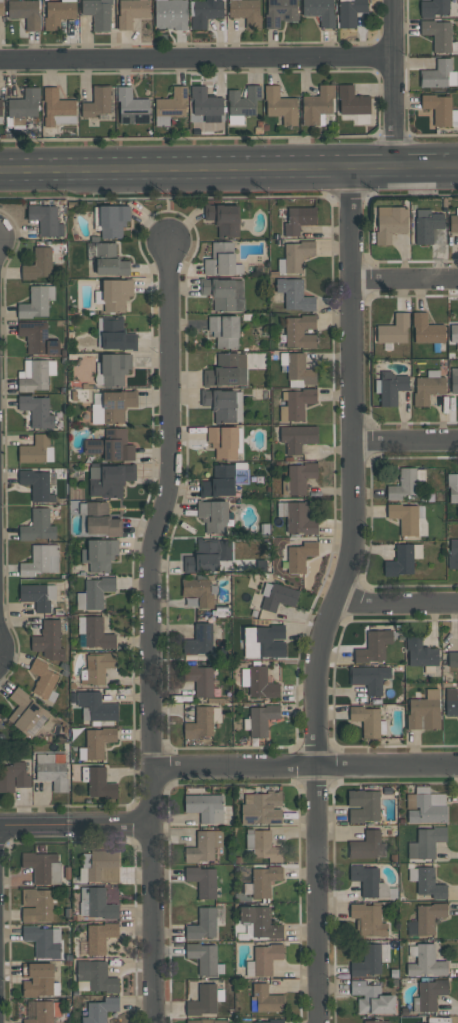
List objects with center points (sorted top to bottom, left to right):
building: (1, 7)
building: (433, 8)
building: (246, 11)
building: (320, 11)
building: (25, 12)
building: (131, 12)
building: (205, 12)
building: (280, 12)
building: (350, 12)
building: (58, 13)
building: (98, 13)
building: (170, 14)
building: (438, 34)
road: (197, 60)
building: (439, 75)
road: (395, 84)
building: (352, 101)
building: (205, 102)
building: (97, 103)
building: (24, 104)
building: (242, 104)
building: (317, 105)
building: (171, 106)
building: (280, 106)
building: (132, 107)
building: (57, 108)
building: (438, 108)
building: (0, 112)
road: (229, 170)
building: (223, 218)
building: (45, 219)
building: (298, 219)
building: (112, 220)
building: (453, 220)
building: (390, 222)
building: (426, 225)
building: (294, 256)
building: (109, 260)
building: (221, 260)
building: (38, 264)
road: (405, 283)
building: (224, 293)
building: (116, 294)
building: (294, 294)
building: (36, 301)
building: (393, 329)
building: (426, 329)
building: (223, 330)
building: (299, 331)
building: (116, 334)
building: (453, 335)
building: (37, 338)
building: (297, 367)
building: (114, 368)
building: (226, 370)
building: (35, 374)
building: (454, 380)
building: (391, 387)
building: (428, 387)
building: (223, 404)
building: (296, 404)
building: (110, 406)
building: (37, 411)
building: (297, 437)
road: (406, 440)
building: (224, 441)
building: (111, 445)
building: (36, 450)
building: (241, 475)
building: (299, 477)
building: (109, 479)
building: (219, 481)
building: (37, 484)
building: (402, 484)
building: (452, 487)
building: (213, 515)
building: (299, 518)
building: (404, 518)
building: (102, 519)
building: (37, 526)
building: (99, 554)
building: (209, 554)
building: (453, 554)
building: (300, 556)
building: (41, 560)
building: (400, 561)
building: (98, 591)
building: (197, 591)
building: (35, 596)
road: (334, 596)
building: (279, 597)
road: (395, 601)
road: (149, 632)
building: (96, 633)
building: (48, 640)
building: (199, 640)
building: (271, 640)
building: (373, 647)
building: (421, 652)
building: (453, 659)
building: (99, 667)
building: (43, 678)
building: (369, 678)
building: (200, 680)
building: (261, 684)
building: (451, 702)
building: (96, 706)
building: (424, 712)
building: (26, 713)
building: (261, 719)
building: (367, 721)
building: (199, 723)
building: (98, 741)
road: (305, 768)
building: (52, 770)
building: (14, 777)
building: (100, 783)
building: (363, 806)
building: (205, 807)
building: (262, 808)
building: (424, 810)
road: (76, 825)
building: (426, 842)
building: (365, 845)
building: (265, 846)
building: (203, 847)
building: (38, 865)
building: (103, 865)
building: (366, 879)
building: (202, 880)
building: (264, 881)
building: (429, 883)
building: (36, 904)
building: (100, 904)
building: (429, 917)
building: (368, 919)
building: (261, 922)
building: (203, 924)
building: (100, 937)
building: (41, 941)
building: (203, 957)
building: (266, 959)
building: (367, 961)
building: (426, 962)
building: (96, 975)
building: (38, 980)
building: (430, 994)
building: (372, 998)
building: (267, 999)
building: (203, 1001)
building: (100, 1010)
building: (42, 1012)
building: (206, 1021)
building: (271, 1021)
building: (372, 1021)
building: (420, 1022)

